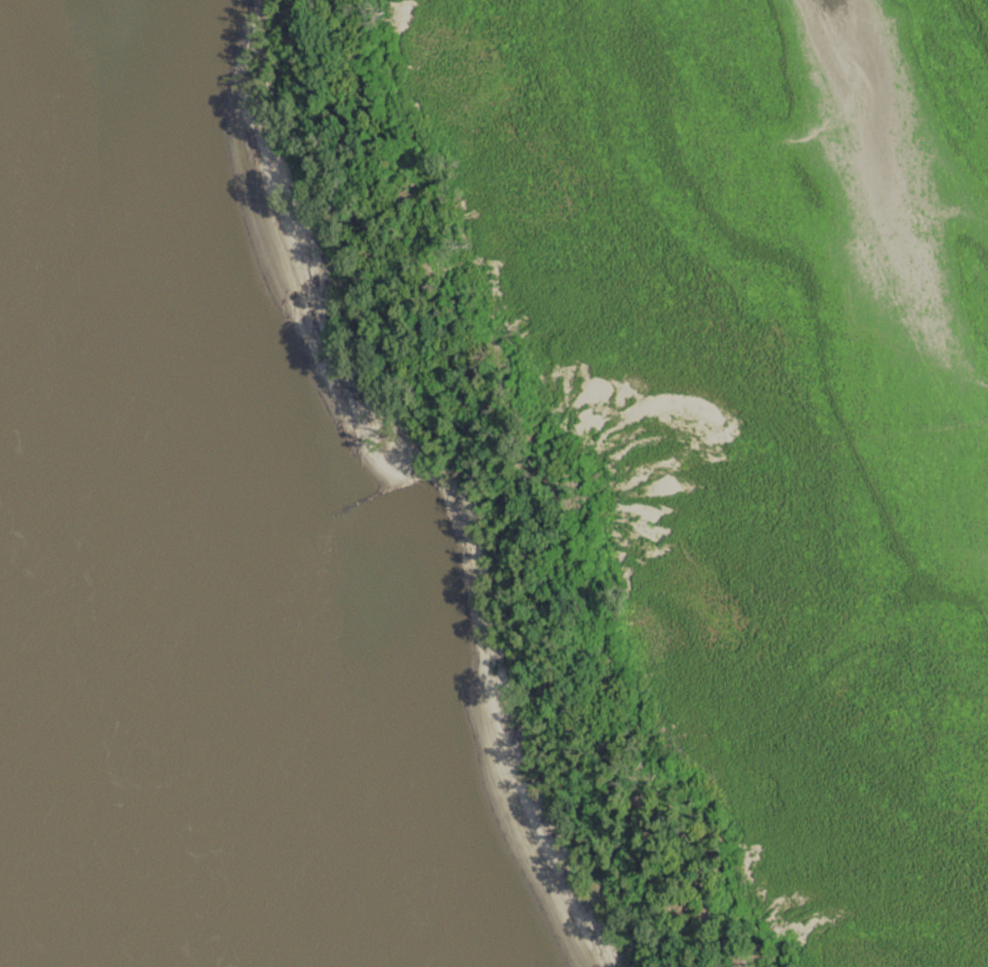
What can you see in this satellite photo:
crop: (759, 404)

